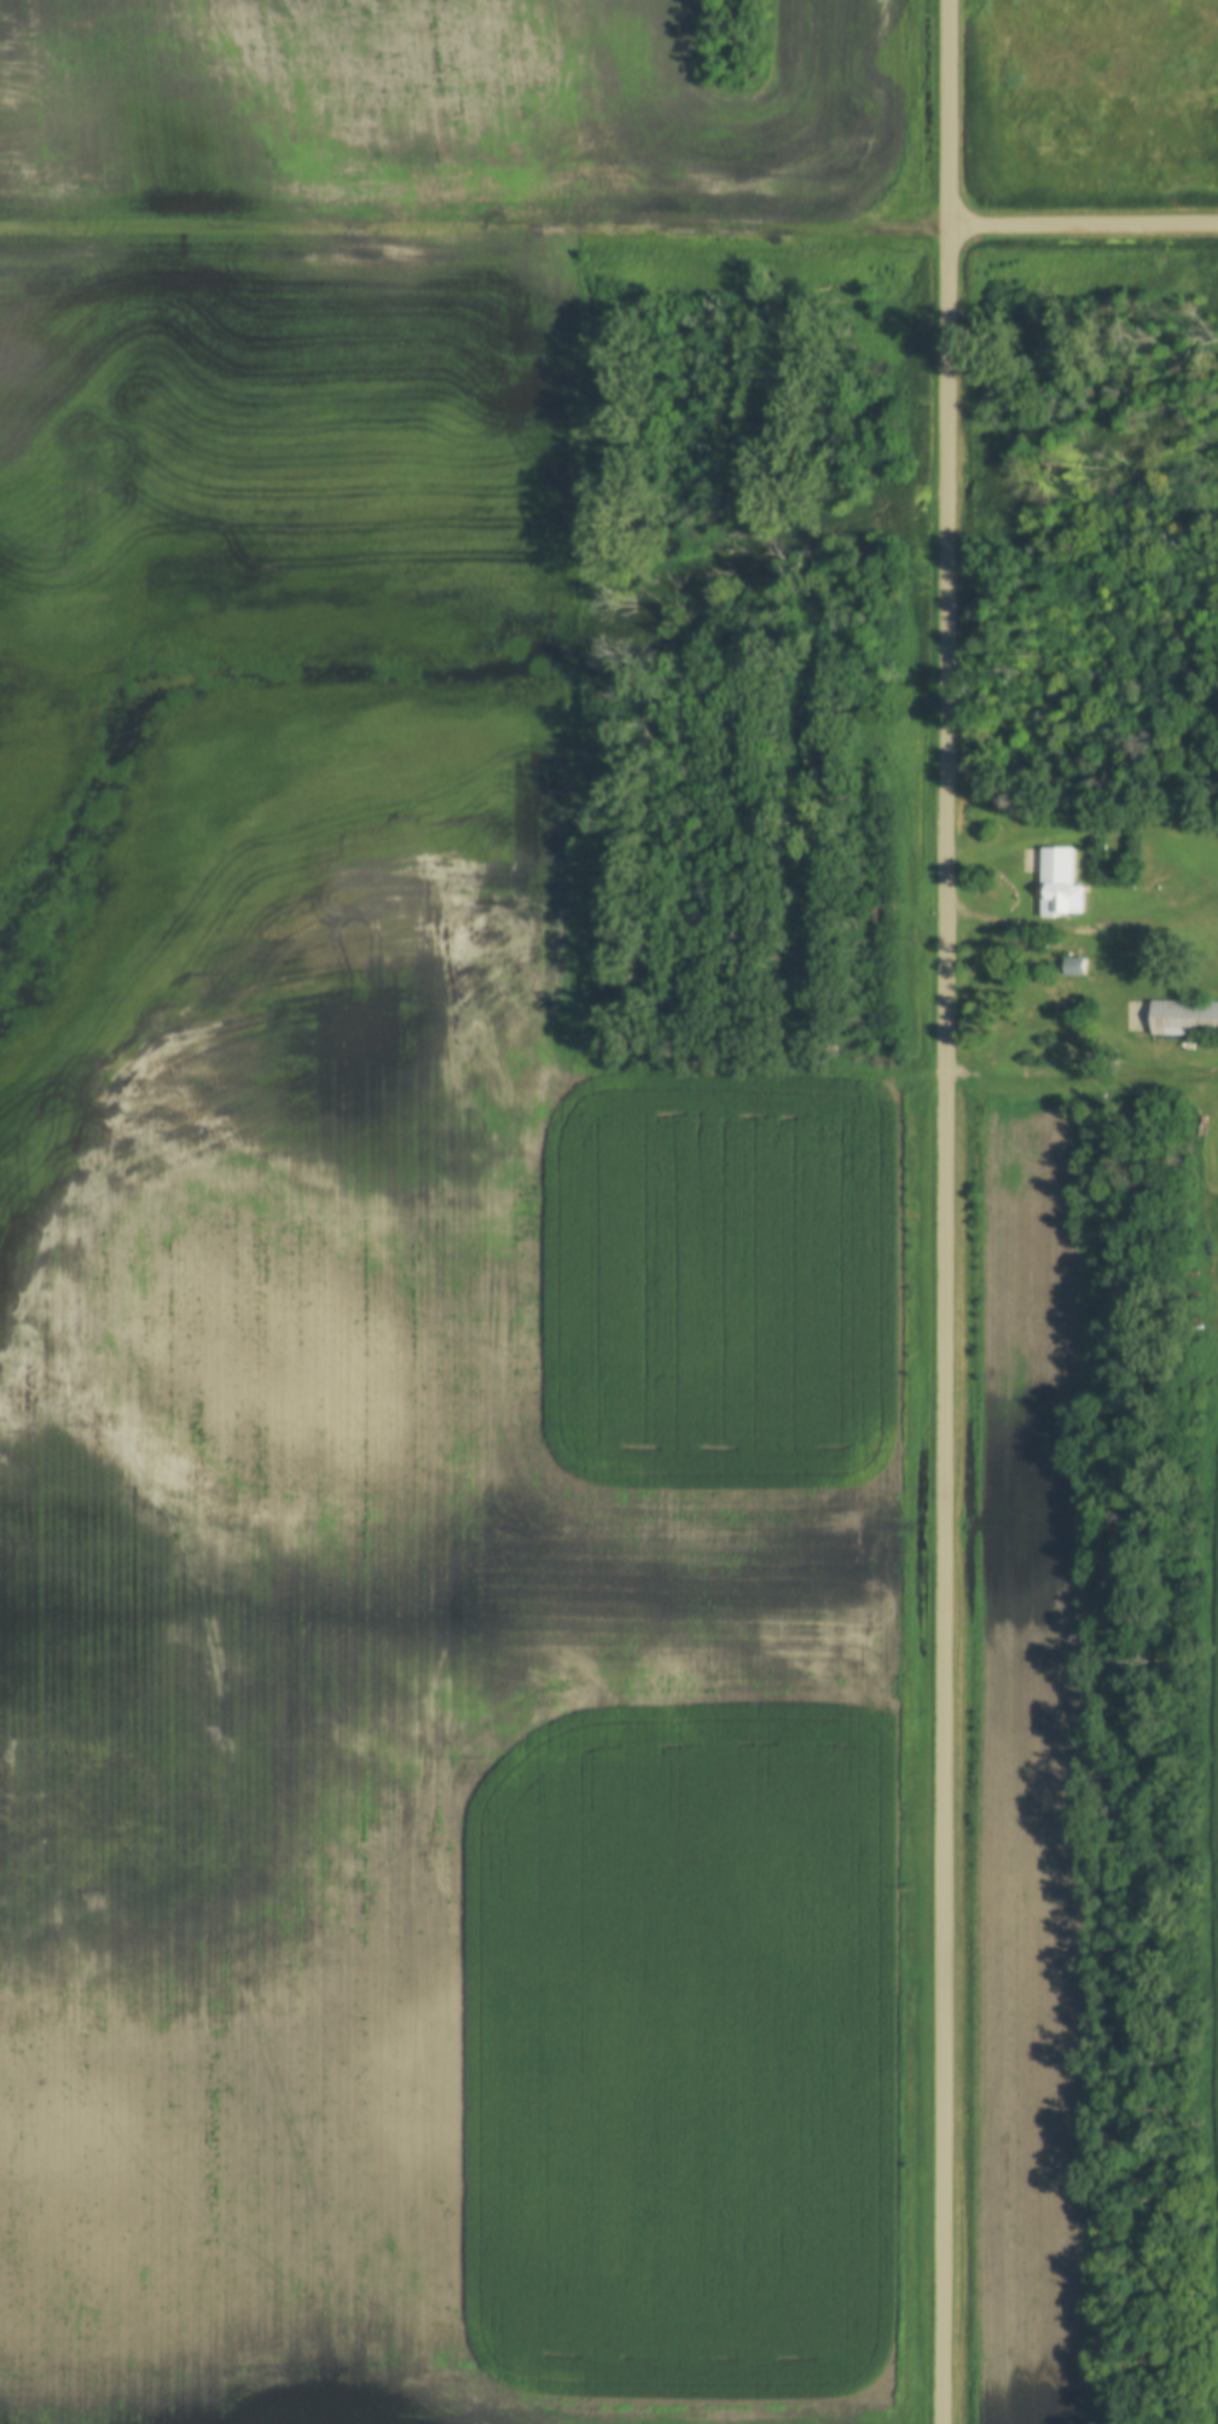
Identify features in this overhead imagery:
crop: (631, 27)
crop: (828, 62)
crop: (720, 88)
crop: (385, 121)
crop: (903, 151)
crop: (842, 161)
road: (1084, 224)
road: (475, 237)
crop: (268, 392)
building: (1062, 885)
road: (1182, 907)
road: (1108, 926)
building: (1078, 967)
building: (1187, 1019)
road: (945, 1211)
building: (1216, 1213)
crop: (436, 1643)
crop: (1026, 1774)
crop: (1214, 2200)

